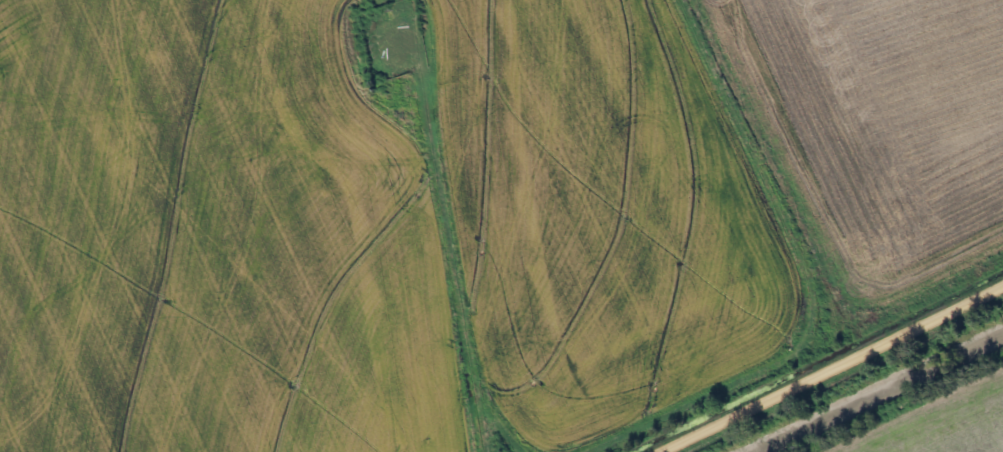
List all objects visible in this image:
road: (830, 366)

